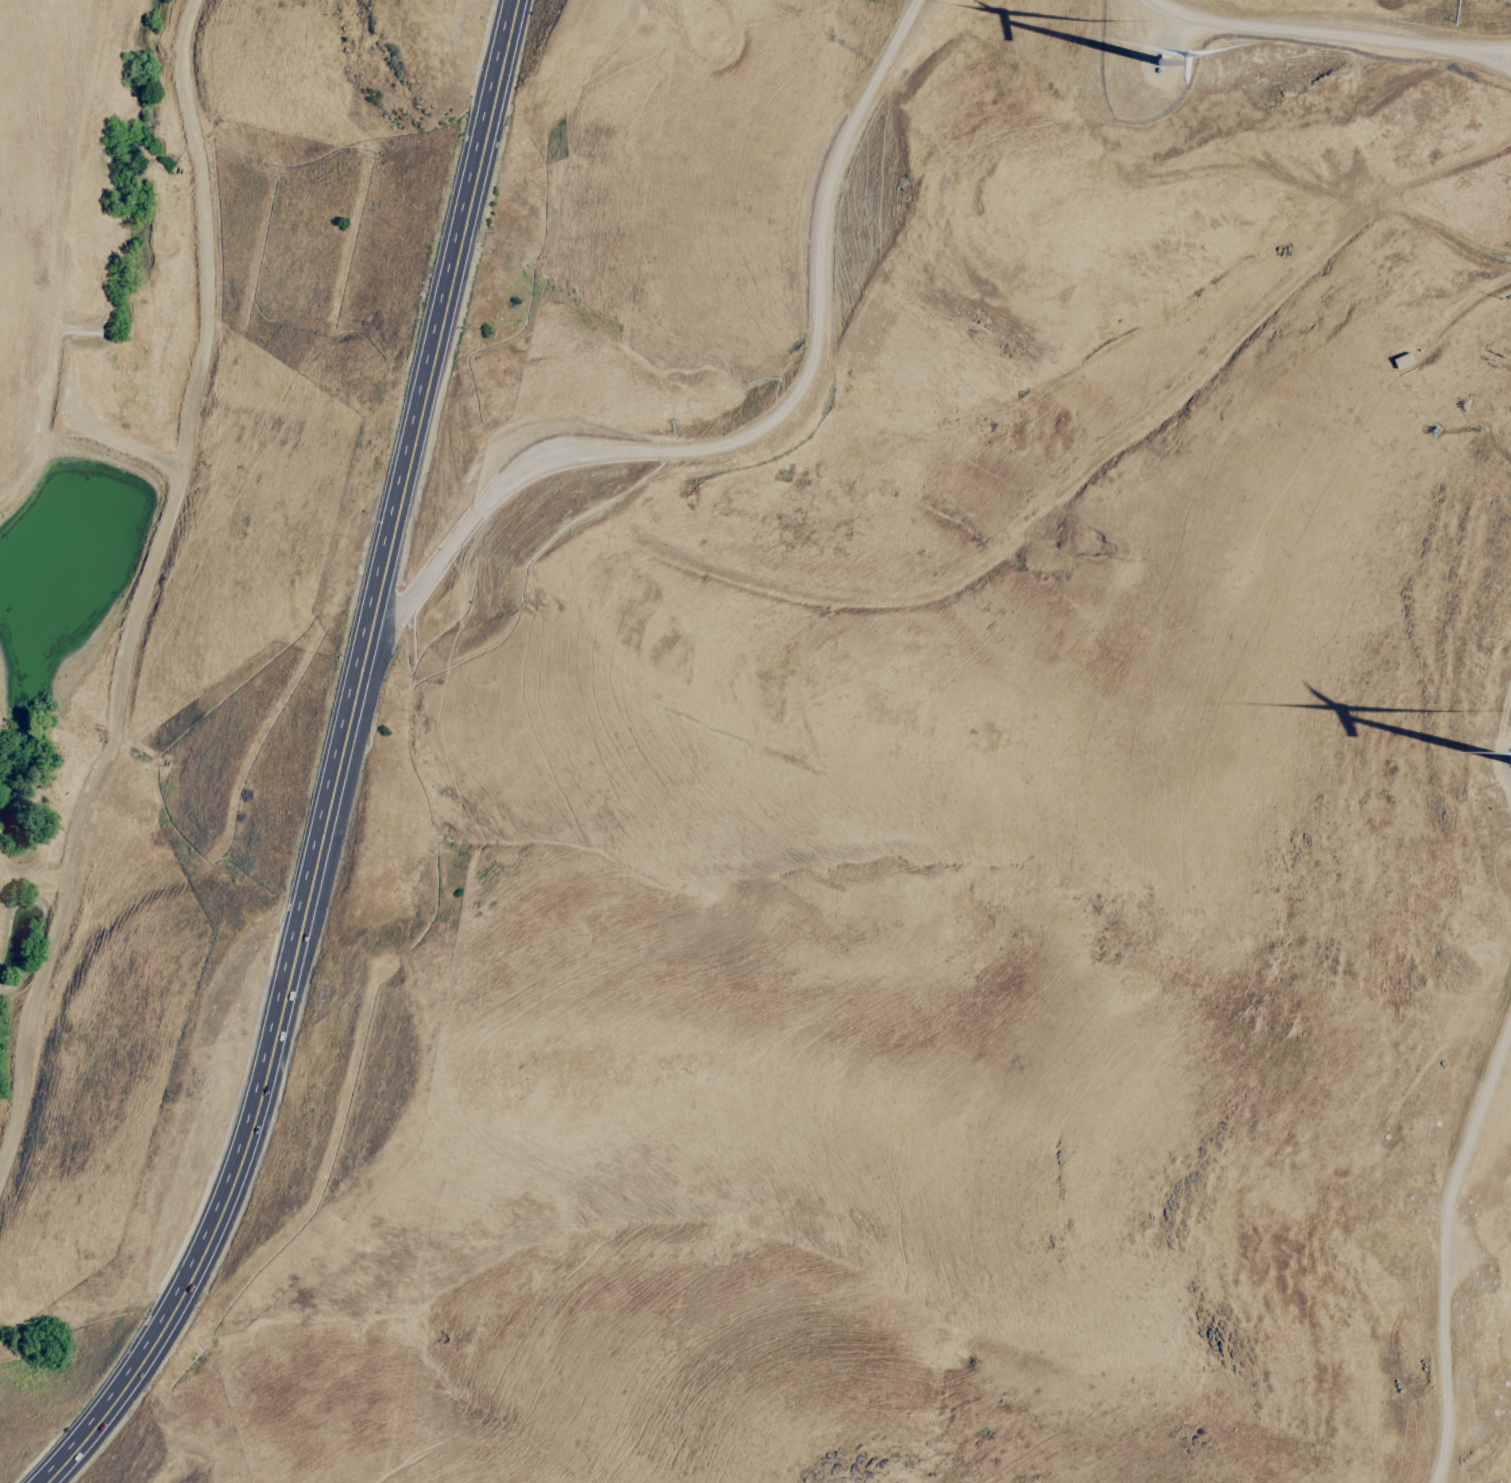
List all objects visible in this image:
crop: (1467, 43)
wind turbine: (1168, 63)
road: (81, 158)
road: (1233, 173)
road: (539, 253)
road: (813, 314)
road: (180, 482)
road: (952, 581)
road: (335, 766)
road: (1455, 1243)

